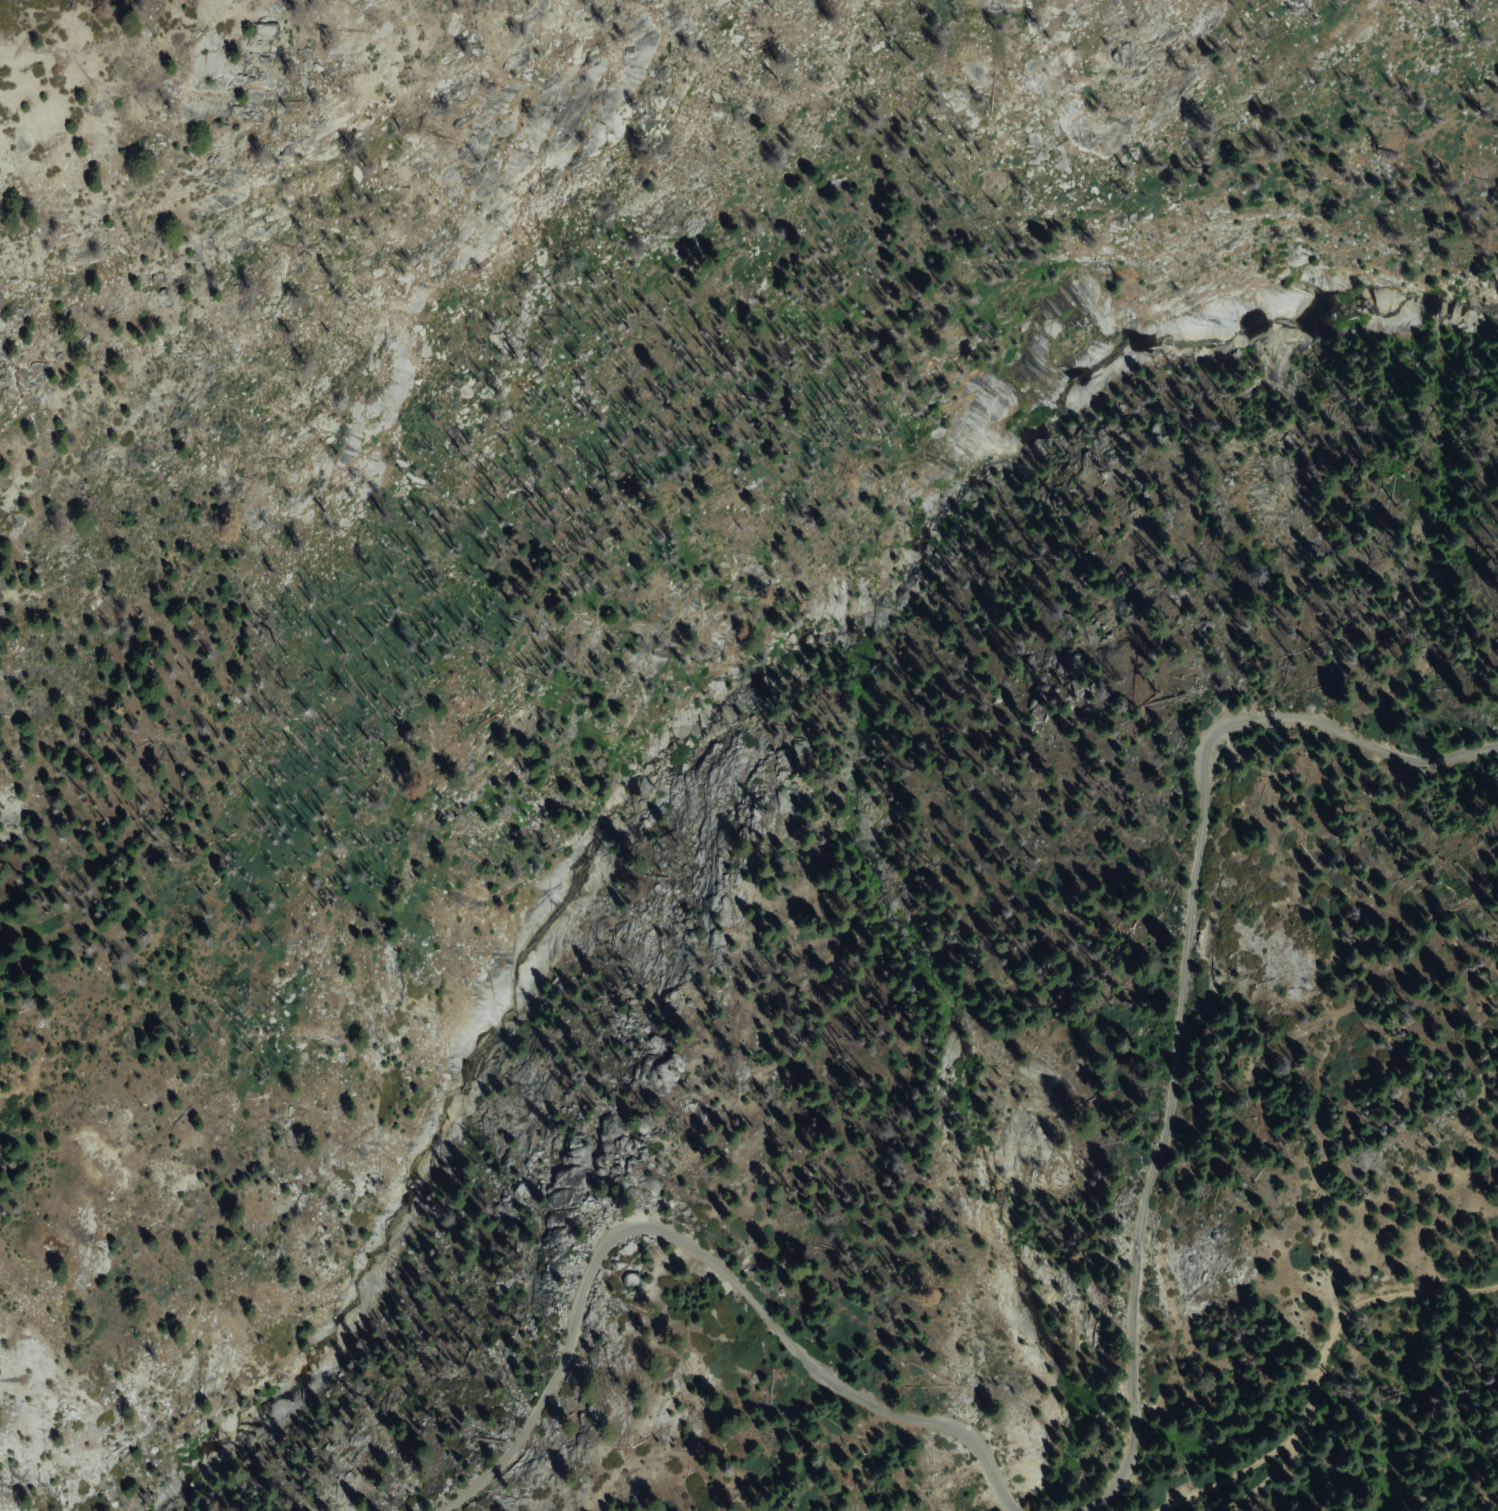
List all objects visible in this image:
road: (1184, 983)
road: (700, 1247)
road: (1312, 1376)
road: (1245, 1476)

